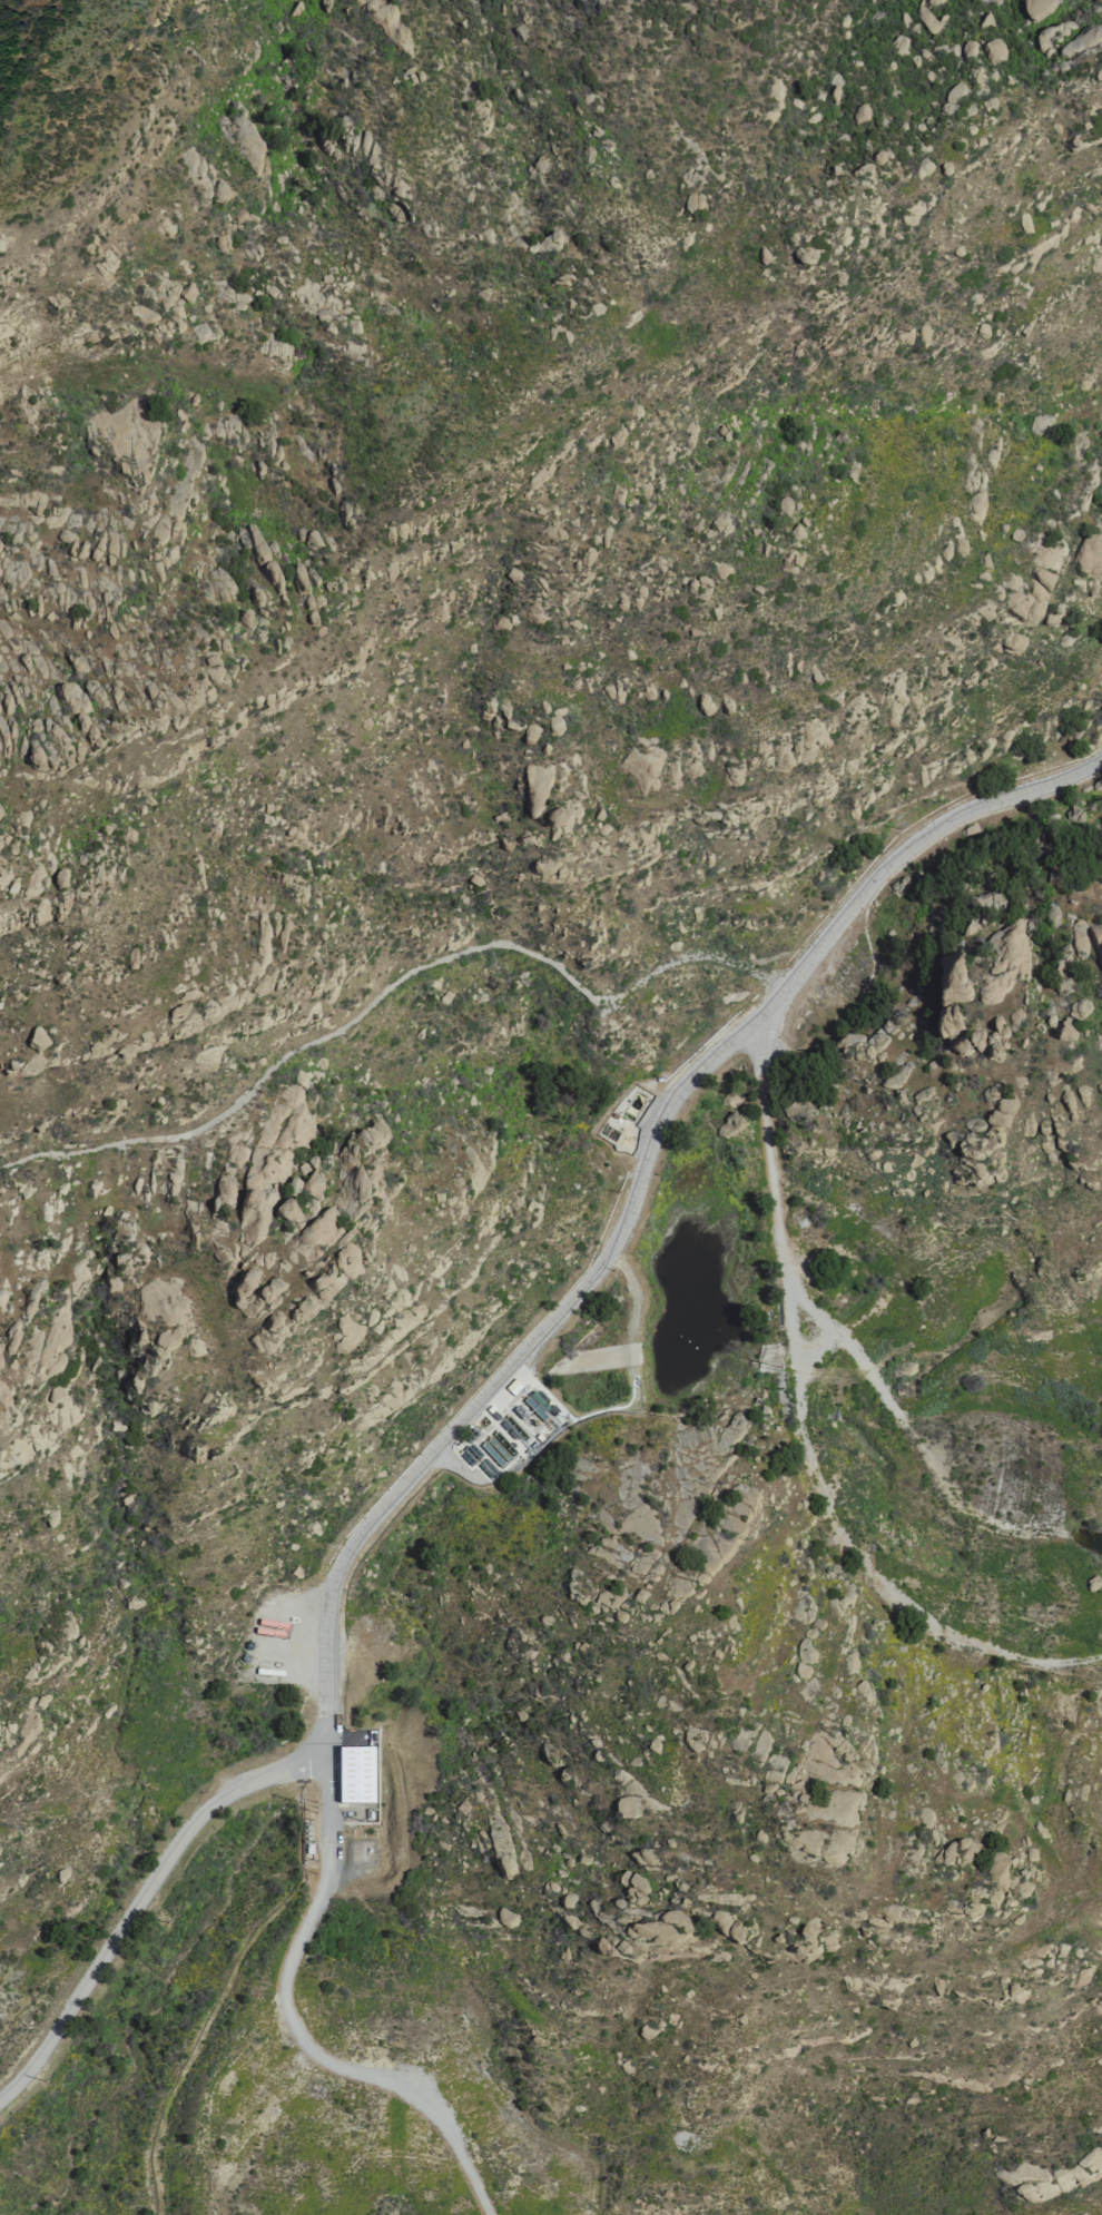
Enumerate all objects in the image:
building: (1036, 7)
building: (926, 20)
building: (993, 51)
building: (859, 114)
building: (220, 243)
building: (1096, 263)
building: (277, 353)
building: (1091, 555)
building: (298, 579)
building: (530, 735)
building: (555, 820)
road: (903, 845)
building: (984, 899)
road: (685, 959)
building: (37, 1040)
road: (304, 1042)
building: (730, 1124)
building: (372, 1133)
building: (378, 1201)
building: (288, 1212)
road: (801, 1427)
building: (737, 1509)
road: (331, 1588)
building: (805, 1651)
building: (803, 1671)
building: (356, 1775)
building: (998, 1868)
road: (139, 1897)
building: (807, 1933)

